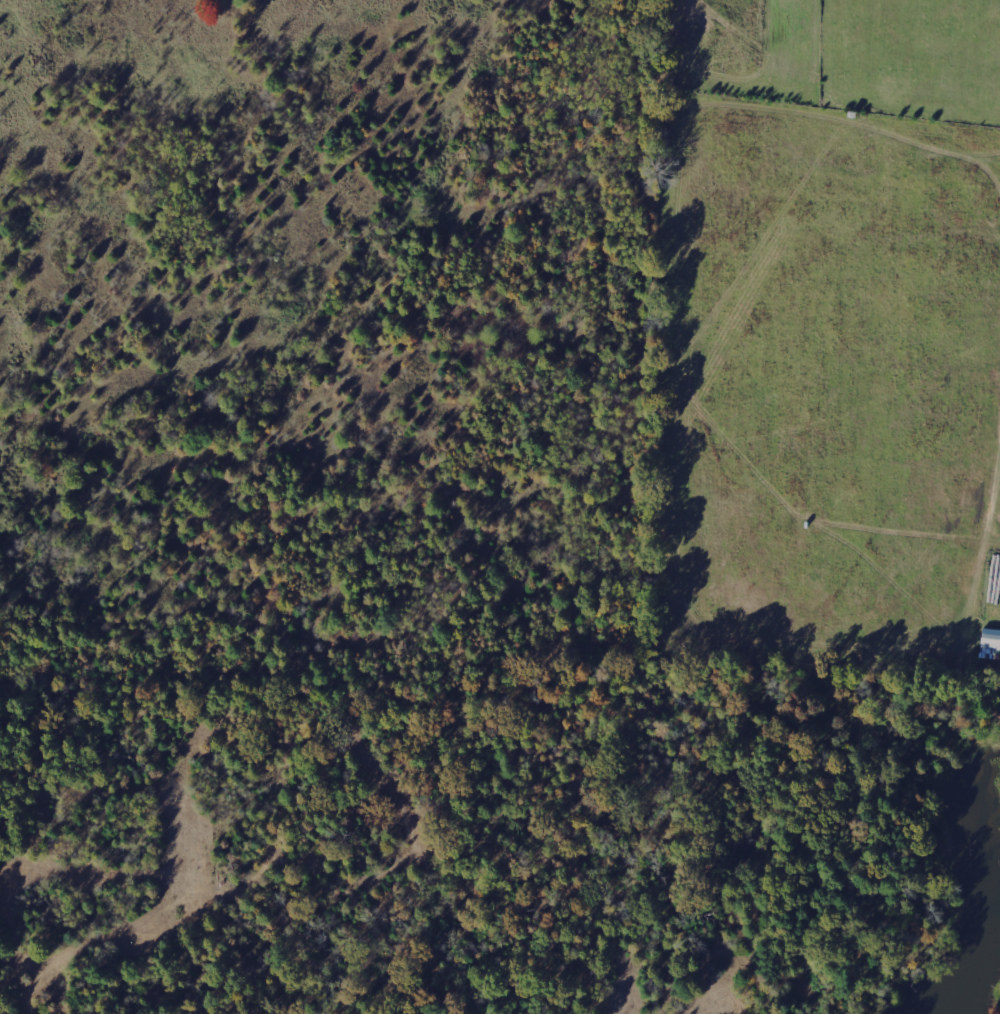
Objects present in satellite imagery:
building: (989, 638)

